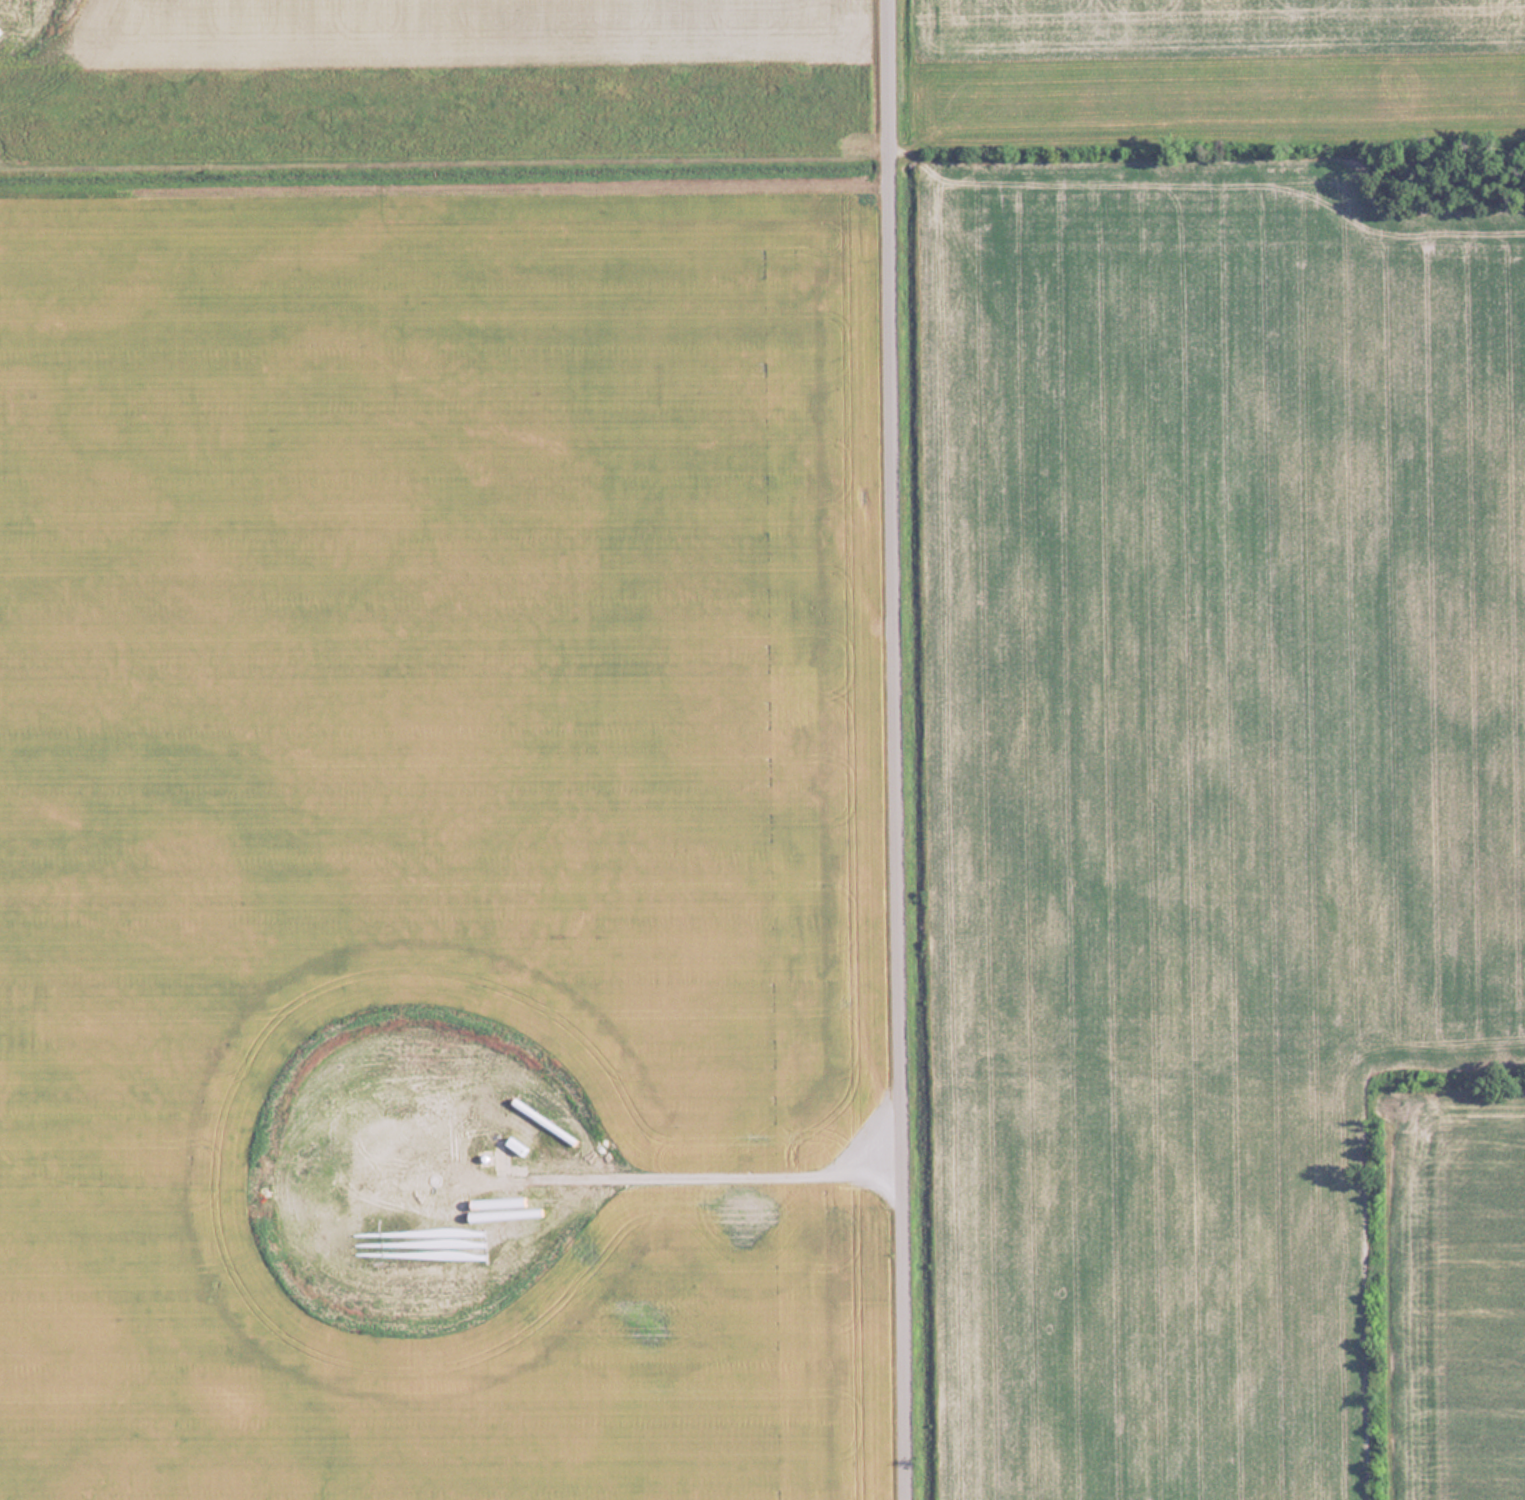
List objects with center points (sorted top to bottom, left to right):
road: (902, 749)
wind turbine: (431, 1182)

